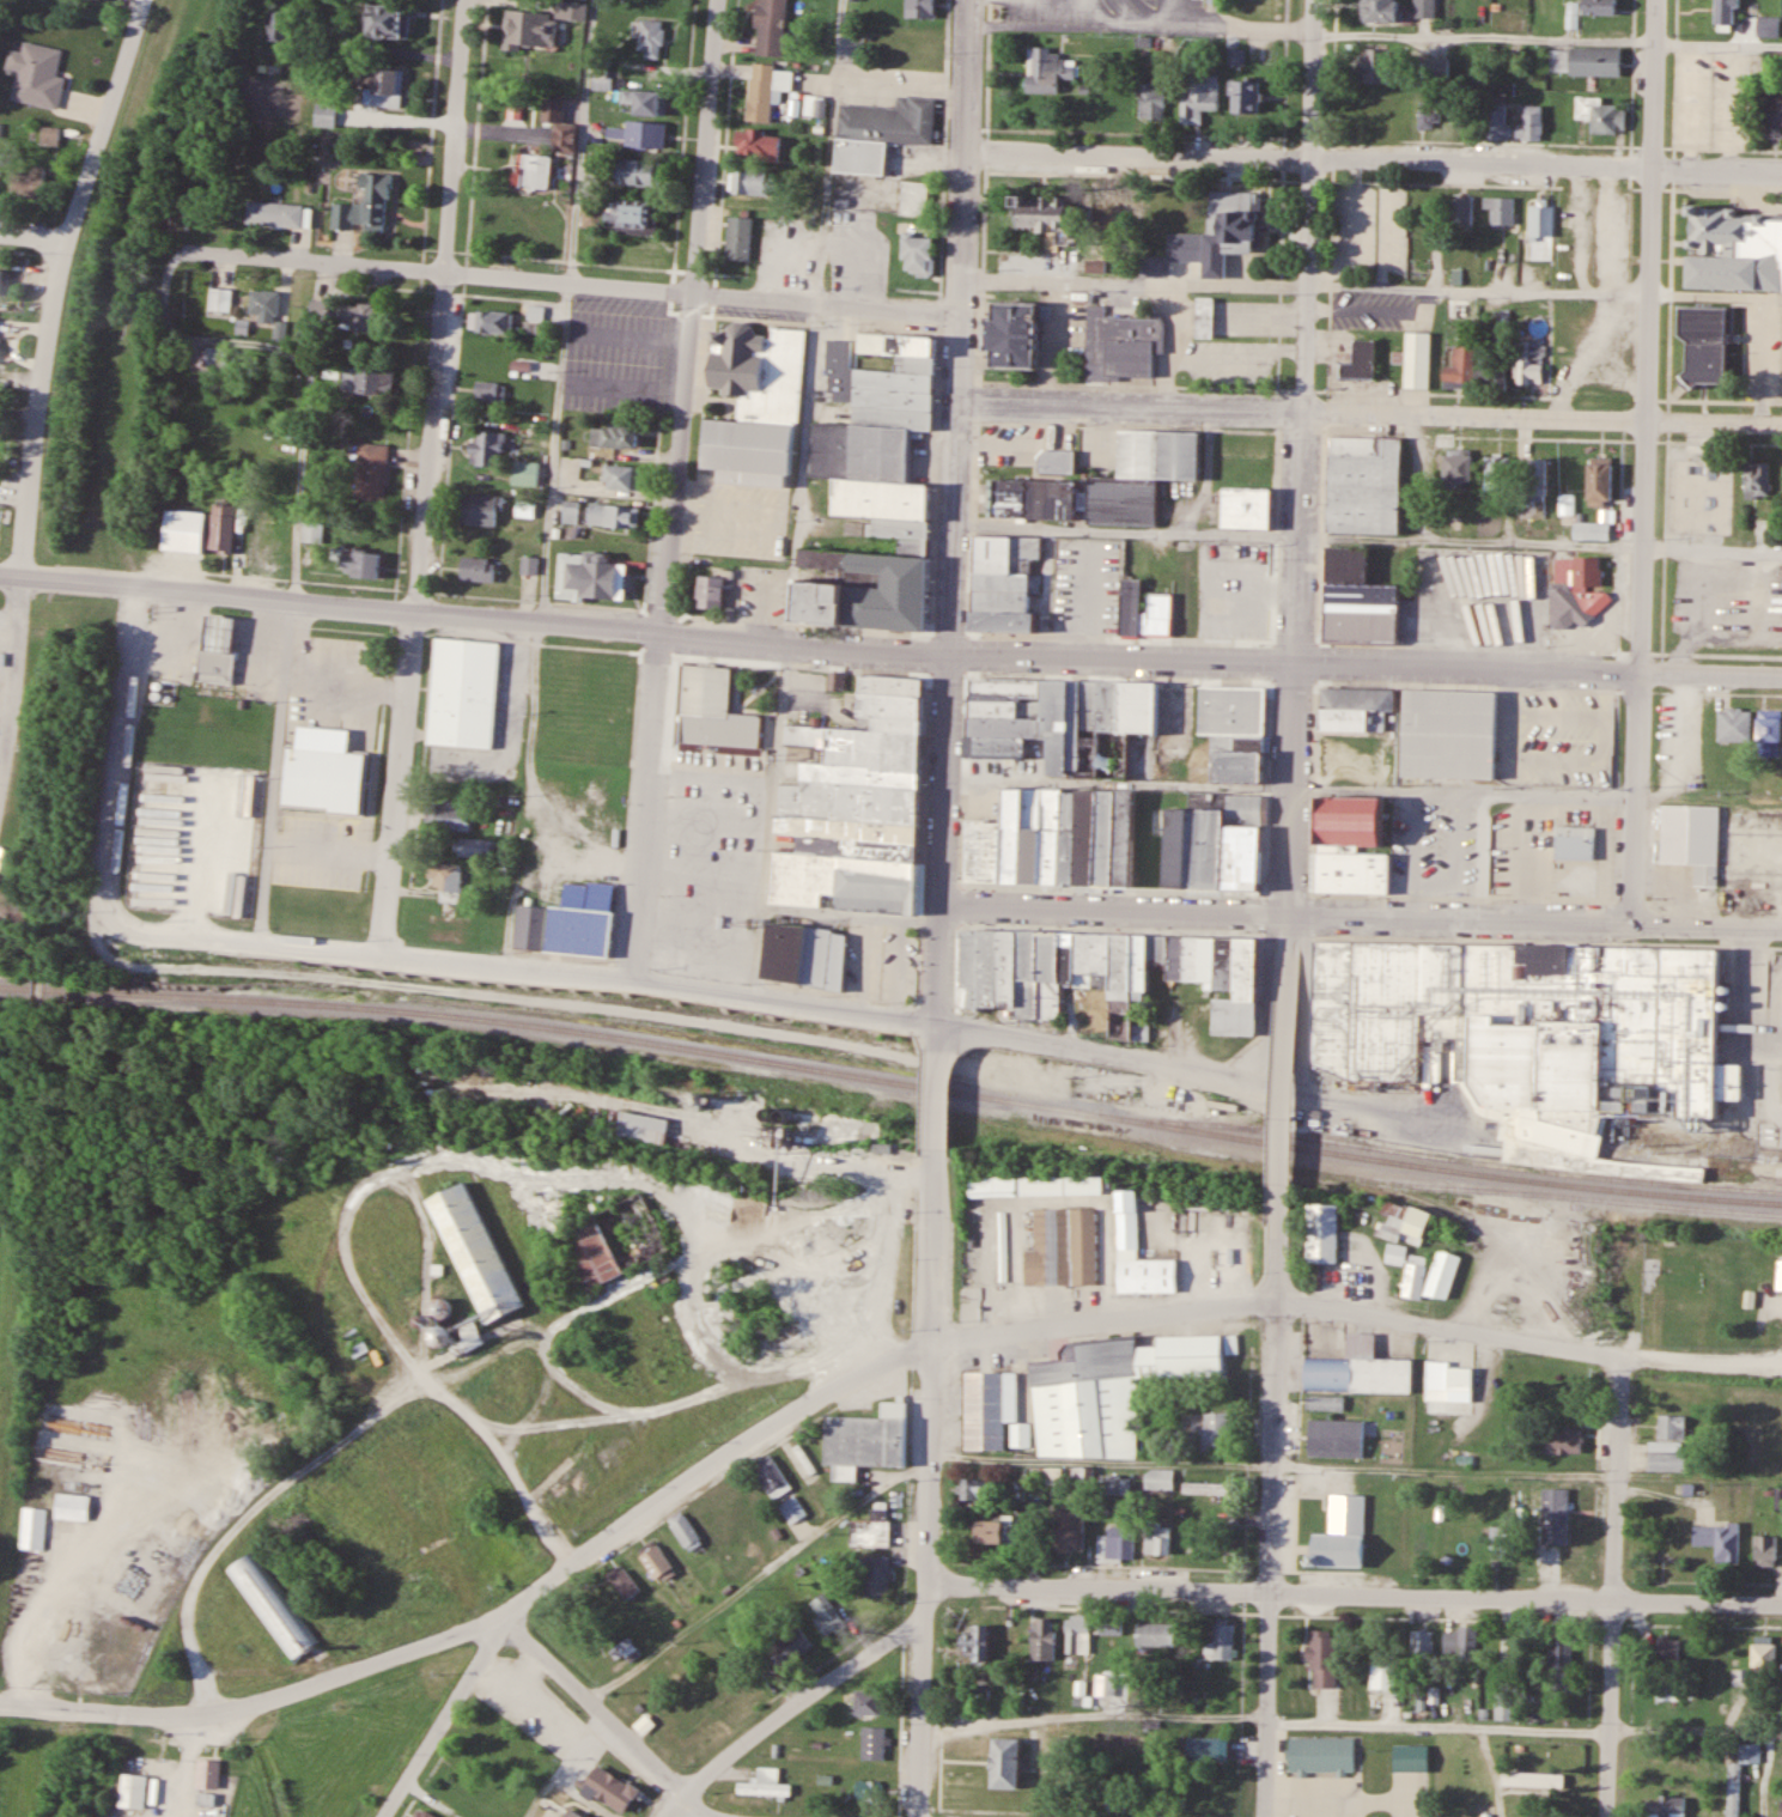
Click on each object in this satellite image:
building: (1599, 7)
building: (919, 8)
building: (1425, 8)
building: (1381, 11)
building: (1727, 13)
building: (387, 22)
building: (279, 25)
building: (540, 25)
building: (771, 28)
building: (649, 38)
building: (1587, 61)
building: (1380, 67)
building: (1439, 69)
building: (1048, 71)
building: (36, 75)
building: (385, 89)
building: (766, 90)
building: (1199, 97)
building: (1245, 97)
building: (1151, 101)
building: (644, 103)
building: (1774, 110)
building: (324, 115)
building: (1429, 115)
building: (1601, 116)
building: (1495, 122)
building: (1531, 123)
building: (560, 126)
building: (880, 133)
building: (640, 135)
building: (49, 136)
building: (758, 144)
road: (1370, 162)
building: (536, 172)
building: (635, 172)
building: (28, 182)
building: (752, 183)
building: (913, 199)
building: (1500, 211)
building: (1460, 212)
building: (1039, 213)
building: (274, 214)
building: (628, 214)
building: (359, 215)
building: (1105, 219)
building: (1225, 231)
building: (1541, 233)
road: (31, 236)
building: (738, 238)
building: (1734, 250)
building: (916, 254)
building: (1, 281)
road: (571, 285)
building: (219, 300)
building: (267, 315)
building: (1204, 317)
building: (361, 318)
building: (493, 322)
building: (1500, 327)
building: (1011, 338)
building: (1704, 344)
building: (1120, 345)
building: (831, 353)
building: (215, 357)
building: (488, 357)
building: (1416, 359)
building: (1361, 360)
building: (1526, 363)
building: (1459, 369)
building: (1489, 372)
road: (43, 381)
building: (369, 381)
building: (491, 391)
building: (754, 406)
road: (1368, 415)
building: (614, 436)
building: (881, 445)
building: (487, 449)
road: (954, 454)
road: (1301, 458)
road: (1647, 461)
building: (1058, 463)
building: (1459, 468)
building: (370, 472)
building: (525, 473)
building: (1495, 474)
building: (1141, 476)
road: (425, 478)
building: (600, 479)
building: (1534, 480)
building: (1756, 480)
building: (1362, 485)
building: (1599, 485)
road: (676, 488)
building: (1032, 499)
building: (479, 509)
building: (571, 510)
building: (1246, 510)
building: (613, 516)
building: (221, 528)
building: (1589, 530)
building: (262, 537)
building: (359, 564)
building: (1345, 564)
building: (476, 569)
building: (1586, 570)
building: (590, 577)
building: (1003, 584)
building: (710, 592)
building: (863, 592)
building: (1130, 606)
building: (1361, 610)
building: (1158, 613)
road: (473, 616)
building: (215, 649)
road: (1363, 667)
building: (462, 693)
building: (1356, 707)
building: (712, 710)
building: (1693, 723)
building: (1057, 724)
building: (1733, 724)
building: (1770, 724)
building: (1235, 729)
building: (1449, 731)
building: (323, 772)
building: (857, 804)
building: (448, 813)
building: (1348, 818)
building: (1690, 838)
building: (1115, 841)
building: (1574, 843)
building: (474, 847)
building: (1352, 870)
building: (448, 883)
road: (1362, 918)
building: (571, 920)
road: (355, 953)
building: (805, 953)
road: (1287, 959)
road: (939, 965)
building: (1106, 971)
road: (935, 1032)
building: (1141, 1032)
building: (1532, 1035)
road: (1095, 1050)
building: (1015, 1071)
railway: (892, 1081)
building: (1781, 1089)
road: (933, 1105)
road: (1282, 1125)
building: (639, 1128)
railway: (1440, 1155)
railway: (1370, 1178)
building: (1034, 1185)
building: (1403, 1222)
building: (1127, 1223)
railway: (1473, 1223)
building: (1321, 1233)
building: (613, 1242)
building: (1062, 1247)
building: (474, 1251)
building: (1394, 1253)
building: (1441, 1274)
building: (1413, 1276)
road: (1355, 1311)
building: (359, 1349)
building: (1193, 1354)
building: (1357, 1369)
building: (1445, 1379)
building: (1091, 1399)
building: (1324, 1402)
building: (995, 1410)
building: (1671, 1426)
building: (1211, 1429)
building: (1336, 1438)
building: (864, 1439)
building: (1564, 1440)
building: (1670, 1457)
building: (1052, 1475)
building: (772, 1476)
building: (1081, 1476)
building: (1158, 1478)
building: (1117, 1484)
building: (1209, 1488)
building: (973, 1489)
road: (925, 1491)
building: (738, 1497)
building: (72, 1507)
building: (792, 1509)
building: (707, 1513)
building: (1568, 1527)
building: (32, 1529)
building: (871, 1530)
building: (993, 1531)
building: (1069, 1531)
building: (686, 1532)
road: (1270, 1532)
building: (1342, 1533)
road: (614, 1535)
building: (1393, 1535)
building: (1500, 1538)
building: (1157, 1539)
building: (1719, 1539)
building: (1199, 1540)
building: (1115, 1544)
building: (1764, 1549)
building: (656, 1561)
building: (876, 1575)
building: (622, 1582)
road: (1616, 1586)
road: (1352, 1593)
building: (273, 1604)
building: (826, 1616)
building: (1111, 1630)
building: (1078, 1635)
building: (1157, 1635)
building: (1042, 1640)
building: (1221, 1641)
building: (1460, 1642)
building: (977, 1643)
building: (1421, 1645)
building: (786, 1649)
building: (1666, 1651)
building: (1324, 1659)
building: (1562, 1661)
building: (1764, 1661)
building: (1382, 1676)
building: (1670, 1693)
road: (259, 1698)
building: (1504, 1701)
building: (864, 1703)
building: (701, 1709)
road: (785, 1709)
road: (609, 1718)
building: (872, 1743)
building: (1205, 1750)
building: (1319, 1754)
building: (1410, 1757)
building: (1005, 1761)
building: (207, 1774)
building: (1533, 1780)
building: (764, 1785)
building: (610, 1788)
building: (1733, 1789)
building: (132, 1791)
building: (868, 1791)
building: (1668, 1806)
building: (1780, 1807)
building: (422, 1812)
building: (572, 1813)

